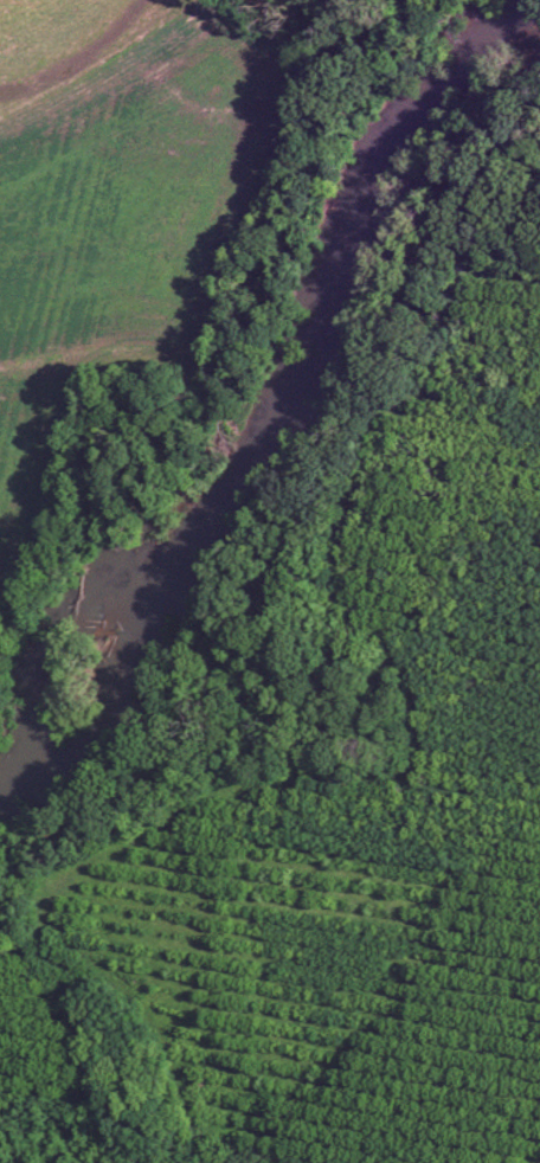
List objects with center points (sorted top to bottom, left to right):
railway: (31, 1156)

